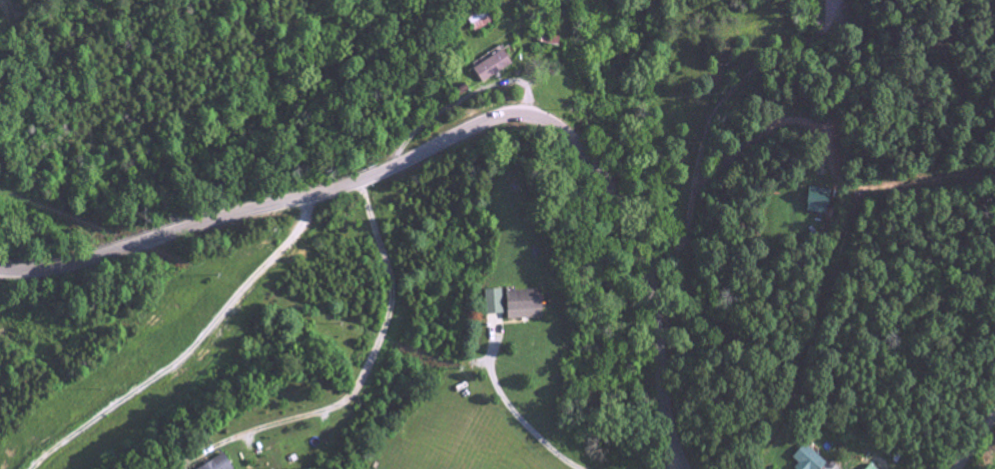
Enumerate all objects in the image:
building: (548, 42)
building: (489, 69)
road: (459, 99)
road: (456, 135)
building: (816, 203)
building: (489, 305)
building: (519, 307)
road: (192, 353)
road: (361, 371)
road: (516, 424)
road: (976, 442)
building: (804, 460)
building: (218, 464)
road: (680, 467)
building: (868, 468)

